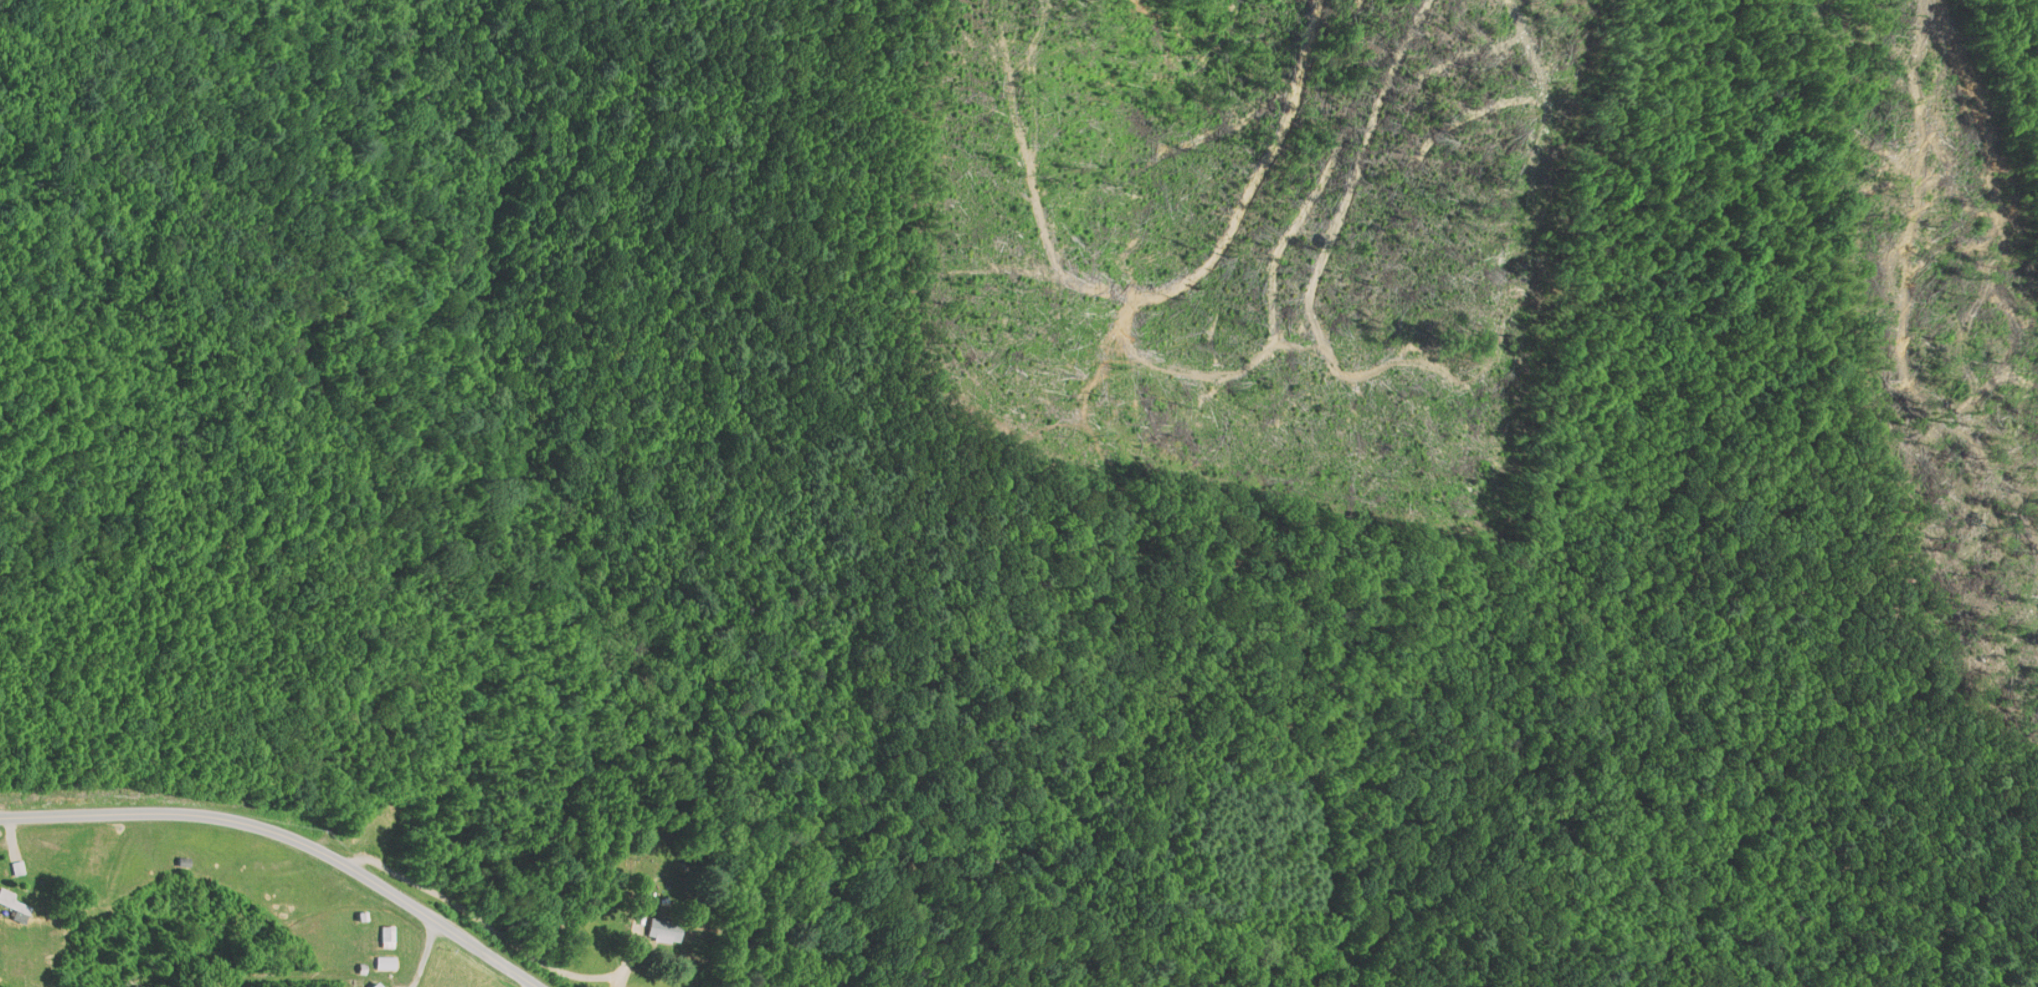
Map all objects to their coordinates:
road: (320, 401)
road: (289, 832)
building: (661, 931)
building: (386, 936)
road: (424, 954)
building: (385, 963)
building: (374, 986)

